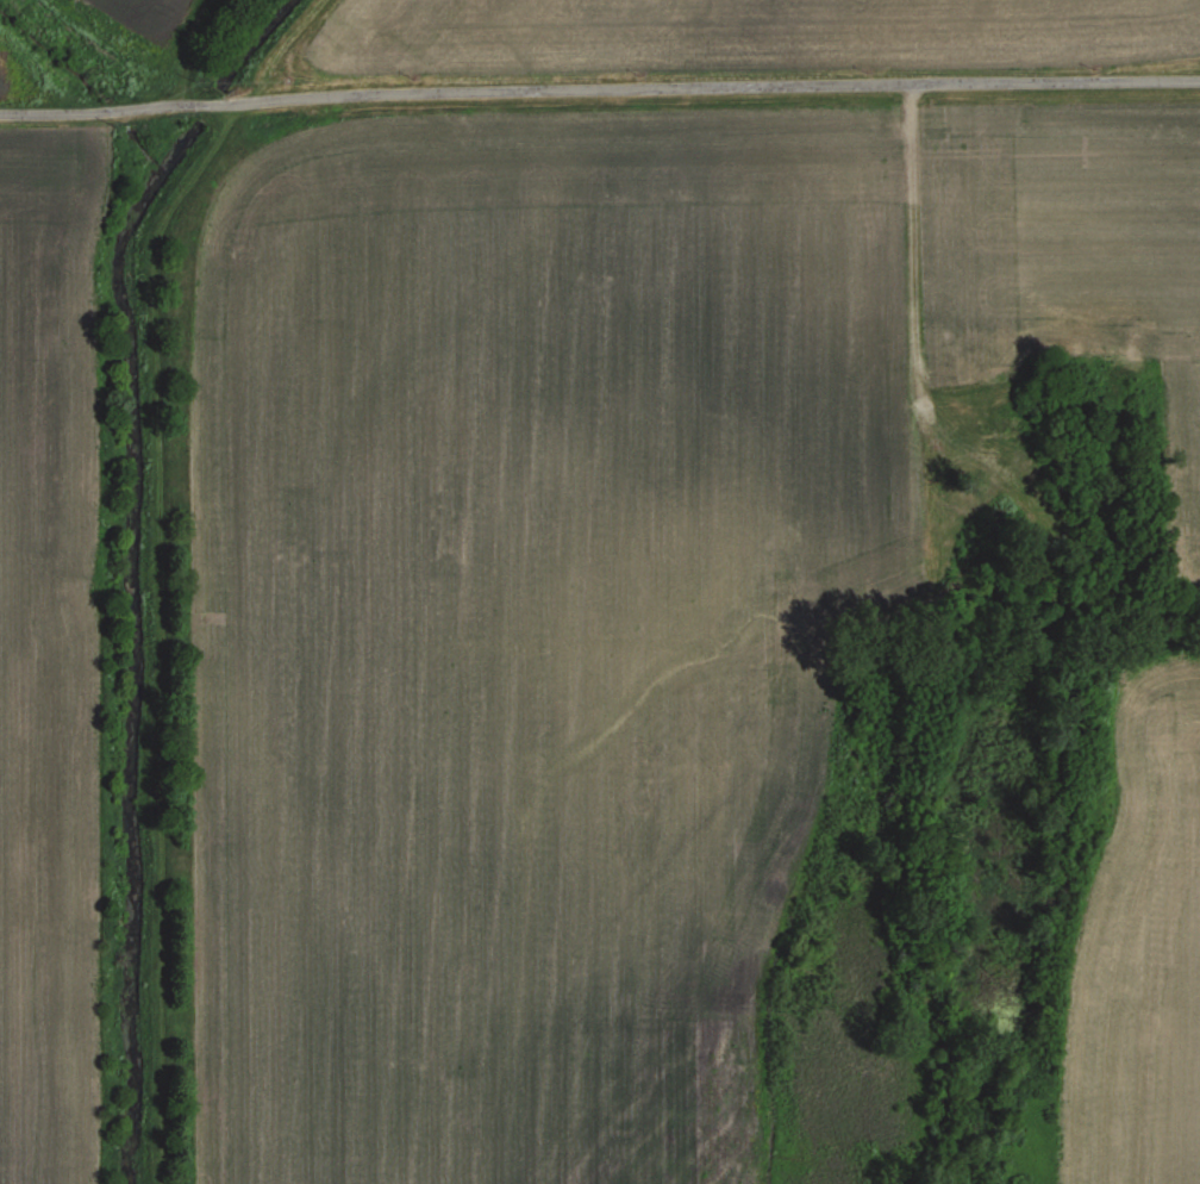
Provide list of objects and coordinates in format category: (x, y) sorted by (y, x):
road: (598, 76)

